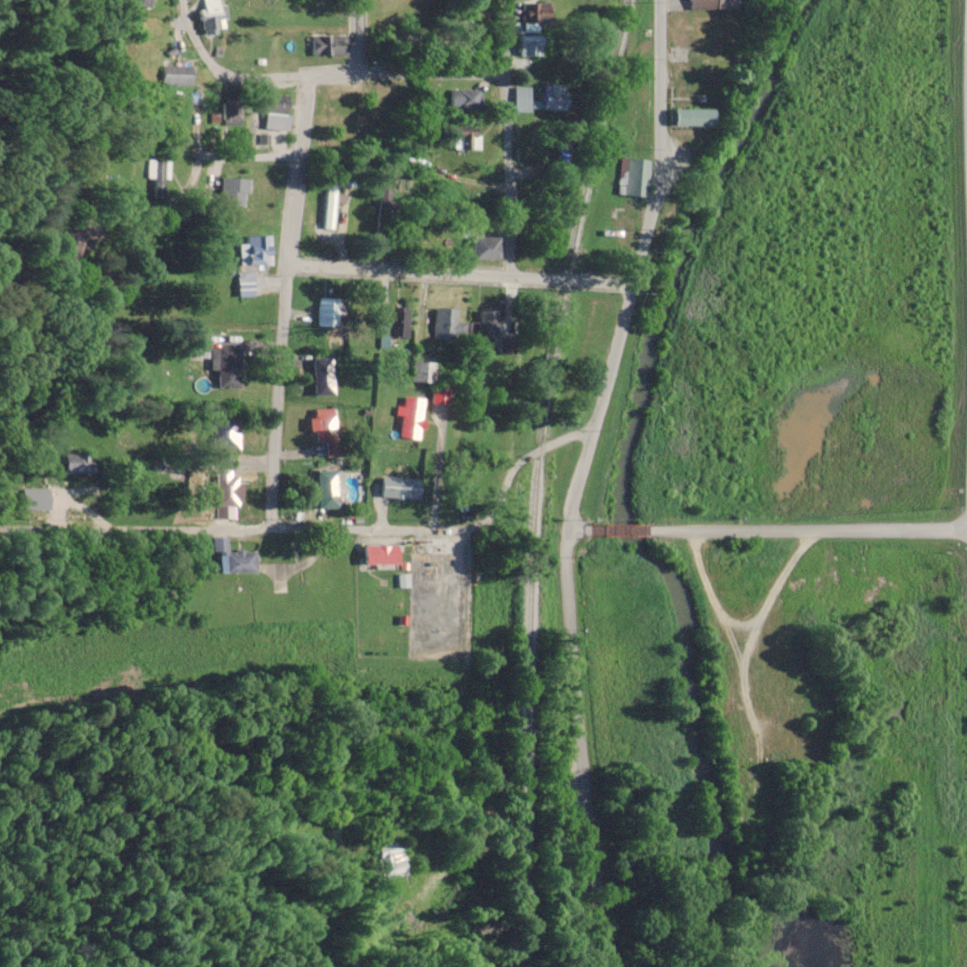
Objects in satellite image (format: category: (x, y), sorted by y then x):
building: (714, 4)
building: (211, 15)
building: (465, 16)
building: (535, 18)
road: (355, 35)
road: (506, 36)
building: (328, 45)
building: (531, 45)
road: (344, 72)
building: (177, 75)
building: (555, 97)
building: (465, 99)
building: (522, 100)
building: (233, 114)
building: (696, 117)
building: (276, 120)
building: (466, 140)
road: (183, 153)
road: (232, 158)
road: (297, 167)
building: (151, 168)
road: (507, 175)
building: (635, 177)
building: (328, 206)
building: (484, 242)
building: (260, 251)
road: (636, 267)
road: (396, 270)
road: (569, 279)
building: (332, 312)
building: (447, 325)
building: (395, 326)
building: (488, 332)
building: (227, 368)
building: (323, 377)
road: (277, 386)
building: (441, 395)
building: (411, 418)
building: (326, 432)
building: (227, 434)
river: (627, 444)
road: (521, 458)
building: (78, 464)
road: (226, 466)
railway: (537, 479)
building: (400, 488)
building: (329, 489)
building: (228, 494)
road: (269, 520)
road: (374, 526)
road: (134, 528)
road: (768, 528)
building: (381, 555)
building: (239, 560)
building: (730, 670)
road: (580, 747)
building: (391, 860)

